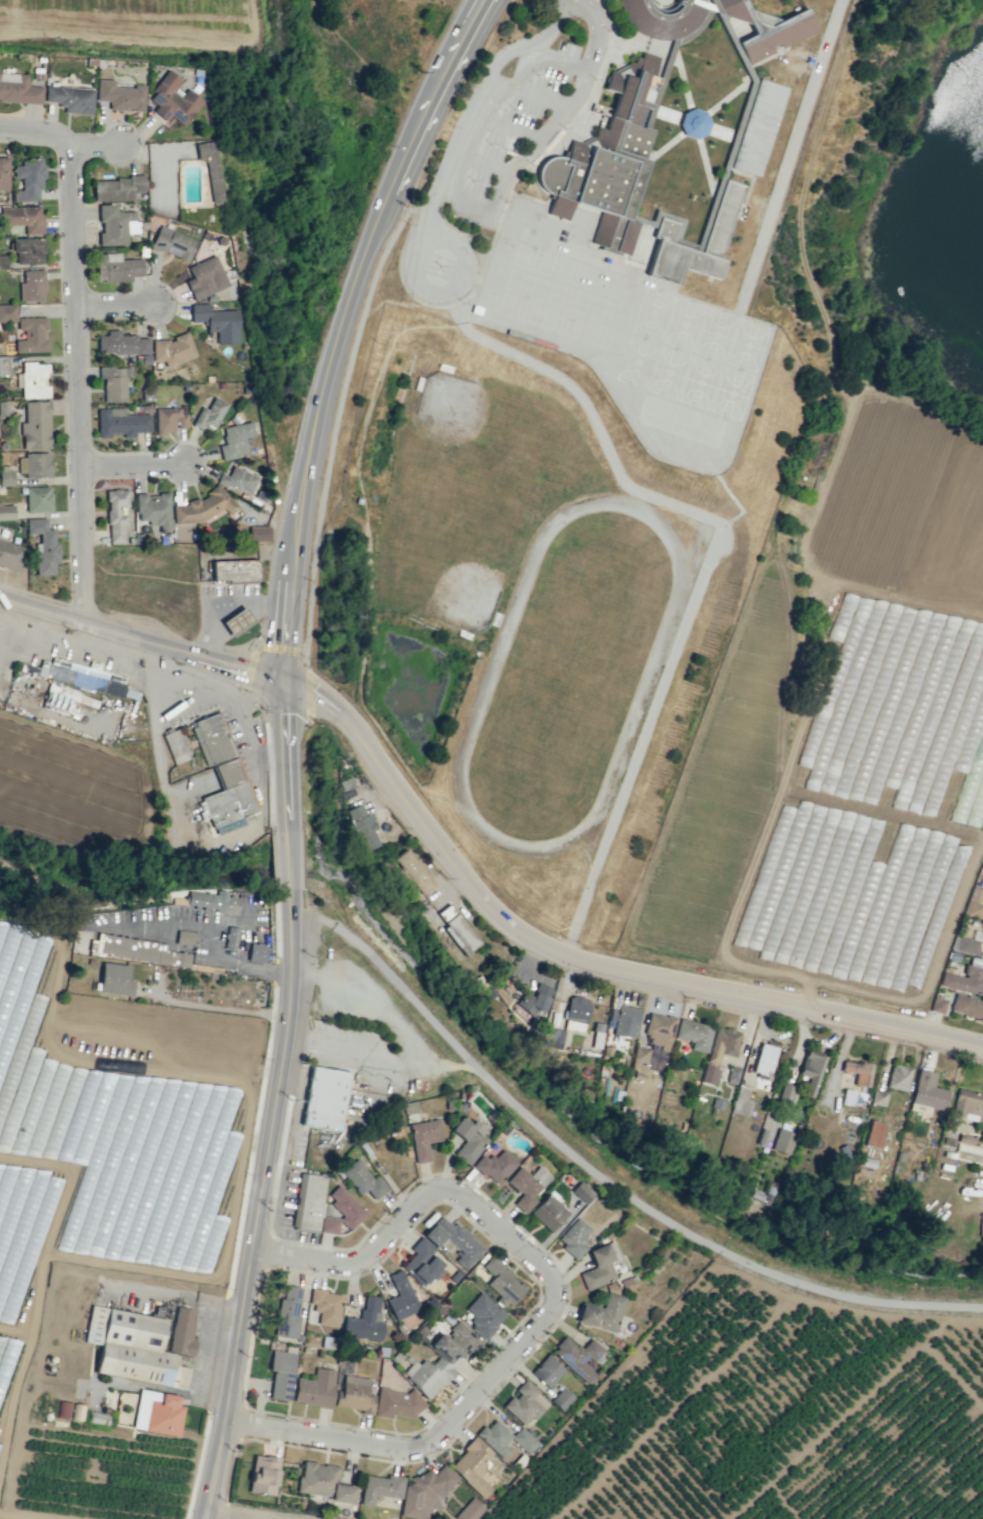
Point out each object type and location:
building: (660, 18)
building: (766, 28)
road: (596, 32)
road: (525, 70)
building: (747, 70)
building: (18, 88)
crop: (358, 89)
building: (120, 95)
road: (538, 96)
building: (70, 98)
building: (172, 100)
road: (470, 103)
road: (563, 112)
building: (693, 123)
building: (757, 126)
road: (510, 129)
crop: (224, 136)
road: (35, 139)
road: (100, 146)
road: (787, 156)
road: (519, 160)
building: (606, 160)
road: (484, 164)
building: (210, 167)
building: (3, 174)
building: (28, 180)
building: (115, 188)
road: (452, 200)
building: (23, 218)
building: (115, 225)
building: (717, 229)
building: (172, 243)
building: (27, 250)
building: (2, 262)
building: (115, 267)
building: (204, 277)
road: (418, 284)
building: (31, 286)
road: (119, 307)
building: (7, 312)
building: (217, 322)
road: (350, 331)
building: (31, 334)
building: (120, 343)
building: (172, 349)
building: (4, 365)
building: (32, 380)
building: (114, 382)
road: (79, 384)
building: (3, 408)
building: (209, 414)
building: (169, 419)
building: (120, 422)
building: (35, 426)
building: (234, 440)
building: (33, 464)
road: (135, 469)
building: (6, 478)
building: (238, 480)
park: (470, 496)
building: (38, 499)
building: (153, 509)
building: (6, 511)
building: (115, 515)
building: (255, 533)
building: (43, 546)
building: (10, 555)
road: (705, 559)
building: (234, 570)
building: (236, 621)
road: (145, 640)
track: (568, 674)
building: (81, 677)
traffic signals: (290, 686)
crop: (842, 696)
road: (241, 713)
building: (174, 746)
crop: (73, 752)
building: (222, 775)
building: (361, 826)
building: (412, 871)
building: (979, 872)
park: (123, 876)
building: (211, 901)
building: (973, 903)
building: (982, 916)
building: (456, 929)
building: (231, 937)
building: (185, 938)
building: (968, 943)
building: (136, 950)
building: (256, 952)
road: (592, 952)
building: (953, 956)
road: (582, 958)
building: (966, 977)
building: (114, 979)
building: (534, 999)
building: (936, 1003)
building: (967, 1006)
building: (576, 1013)
building: (625, 1020)
building: (658, 1030)
building: (597, 1034)
building: (693, 1034)
building: (555, 1038)
building: (719, 1051)
building: (639, 1054)
building: (763, 1059)
building: (654, 1063)
building: (811, 1070)
building: (857, 1071)
building: (732, 1074)
building: (898, 1077)
building: (928, 1091)
building: (327, 1092)
building: (785, 1093)
building: (847, 1096)
building: (878, 1097)
building: (740, 1101)
road: (281, 1105)
building: (967, 1105)
building: (873, 1134)
building: (423, 1138)
building: (468, 1139)
building: (964, 1139)
building: (782, 1141)
building: (495, 1165)
road: (600, 1178)
building: (362, 1179)
building: (527, 1185)
building: (581, 1191)
building: (309, 1201)
building: (346, 1206)
building: (548, 1212)
building: (328, 1224)
building: (981, 1229)
building: (573, 1237)
building: (453, 1240)
crop: (114, 1251)
building: (421, 1262)
building: (599, 1265)
building: (502, 1283)
building: (400, 1297)
building: (326, 1306)
road: (552, 1306)
building: (288, 1311)
building: (601, 1313)
building: (483, 1315)
building: (364, 1321)
building: (182, 1330)
building: (455, 1343)
building: (132, 1347)
building: (577, 1357)
building: (546, 1370)
building: (281, 1374)
building: (428, 1375)
building: (315, 1388)
building: (354, 1394)
building: (561, 1398)
building: (395, 1403)
building: (523, 1403)
building: (61, 1409)
building: (77, 1411)
building: (157, 1412)
crop: (772, 1416)
building: (504, 1438)
building: (476, 1467)
building: (263, 1474)
building: (322, 1482)
building: (380, 1487)
building: (424, 1493)
building: (469, 1510)
crop: (39, 1514)
crop: (238, 1514)
road: (247, 1514)

